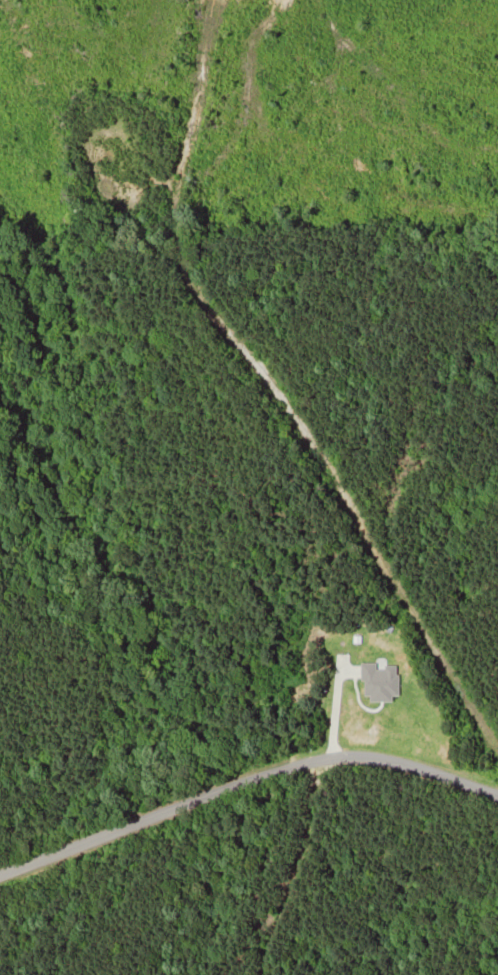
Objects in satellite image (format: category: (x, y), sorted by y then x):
road: (277, 387)
building: (358, 628)
road: (242, 785)

